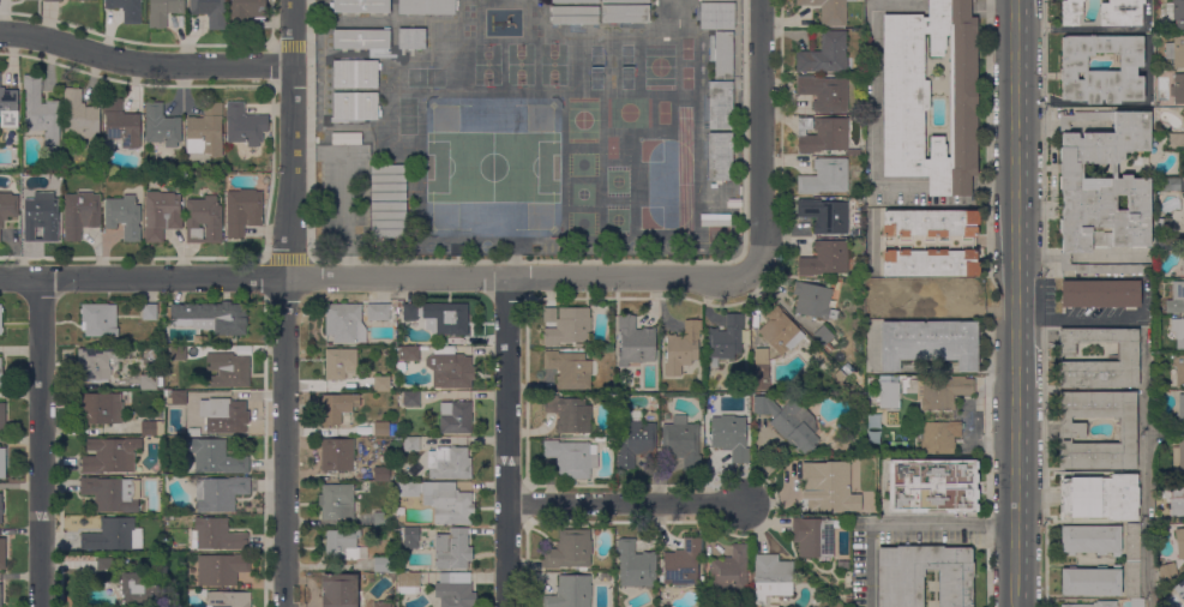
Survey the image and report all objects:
building: (52, 0)
building: (722, 0)
building: (575, 1)
building: (625, 1)
building: (361, 6)
building: (426, 7)
building: (126, 10)
building: (163, 11)
building: (828, 11)
building: (210, 12)
building: (246, 12)
building: (625, 13)
building: (1102, 13)
building: (1176, 13)
building: (573, 14)
building: (716, 16)
building: (411, 38)
building: (361, 40)
road: (290, 46)
building: (1176, 50)
building: (824, 54)
building: (723, 55)
road: (144, 64)
building: (1072, 70)
building: (355, 74)
building: (1177, 89)
building: (824, 92)
building: (906, 96)
building: (355, 106)
building: (720, 106)
building: (8, 108)
building: (41, 114)
building: (79, 114)
building: (1183, 115)
building: (121, 124)
building: (804, 124)
building: (161, 126)
building: (245, 127)
building: (205, 131)
road: (761, 136)
building: (828, 137)
building: (345, 139)
building: (1174, 140)
building: (720, 157)
building: (824, 176)
building: (55, 181)
building: (387, 182)
building: (1170, 185)
building: (723, 186)
building: (1102, 191)
building: (8, 206)
building: (242, 211)
building: (79, 214)
building: (1183, 214)
building: (161, 215)
building: (824, 215)
building: (124, 216)
building: (41, 218)
building: (389, 220)
building: (203, 221)
building: (1162, 227)
building: (930, 242)
road: (287, 259)
road: (524, 259)
building: (824, 259)
building: (1183, 260)
road: (375, 277)
building: (889, 286)
building: (1100, 294)
building: (946, 298)
building: (1176, 299)
building: (813, 300)
road: (284, 302)
road: (1014, 302)
building: (149, 312)
building: (380, 312)
building: (212, 317)
building: (439, 317)
building: (0, 319)
road: (1066, 319)
building: (98, 320)
building: (344, 323)
building: (566, 325)
building: (1178, 331)
building: (780, 332)
building: (823, 335)
building: (727, 338)
building: (635, 342)
building: (928, 343)
building: (683, 348)
building: (179, 353)
building: (408, 354)
building: (1128, 359)
building: (95, 363)
building: (339, 363)
building: (761, 363)
building: (399, 367)
building: (450, 368)
building: (228, 369)
building: (569, 369)
building: (1178, 369)
building: (0, 372)
building: (149, 383)
building: (699, 383)
building: (380, 384)
building: (944, 393)
building: (888, 396)
building: (179, 398)
building: (410, 399)
building: (98, 408)
building: (337, 408)
building: (1180, 413)
building: (569, 414)
building: (223, 415)
building: (2, 417)
building: (455, 417)
building: (789, 422)
building: (148, 428)
building: (380, 429)
building: (1072, 431)
building: (731, 437)
building: (939, 438)
building: (635, 440)
road: (40, 441)
road: (507, 441)
building: (681, 443)
building: (411, 444)
building: (110, 455)
building: (337, 455)
building: (1178, 457)
building: (215, 458)
building: (571, 458)
building: (2, 463)
building: (446, 463)
road: (1044, 467)
road: (1144, 470)
building: (381, 474)
building: (829, 486)
building: (932, 486)
building: (407, 489)
building: (113, 493)
building: (220, 493)
building: (1100, 497)
building: (336, 501)
building: (447, 503)
road: (625, 504)
building: (1177, 506)
building: (0, 507)
building: (381, 519)
road: (942, 522)
building: (114, 535)
building: (217, 535)
building: (410, 537)
building: (812, 537)
building: (1090, 539)
building: (1132, 542)
building: (1179, 542)
building: (343, 546)
building: (452, 549)
building: (569, 549)
building: (2, 552)
building: (683, 563)
road: (870, 564)
building: (108, 565)
building: (636, 565)
building: (842, 565)
road: (987, 565)
building: (384, 566)
building: (221, 569)
building: (1166, 569)
building: (729, 570)
building: (924, 575)
building: (771, 577)
building: (1132, 579)
building: (1092, 581)
building: (408, 583)
building: (1179, 589)
building: (143, 590)
building: (339, 590)
building: (456, 590)
building: (570, 591)
building: (0, 595)
building: (228, 599)
building: (816, 601)
building: (1136, 602)
building: (380, 603)
building: (1094, 605)

